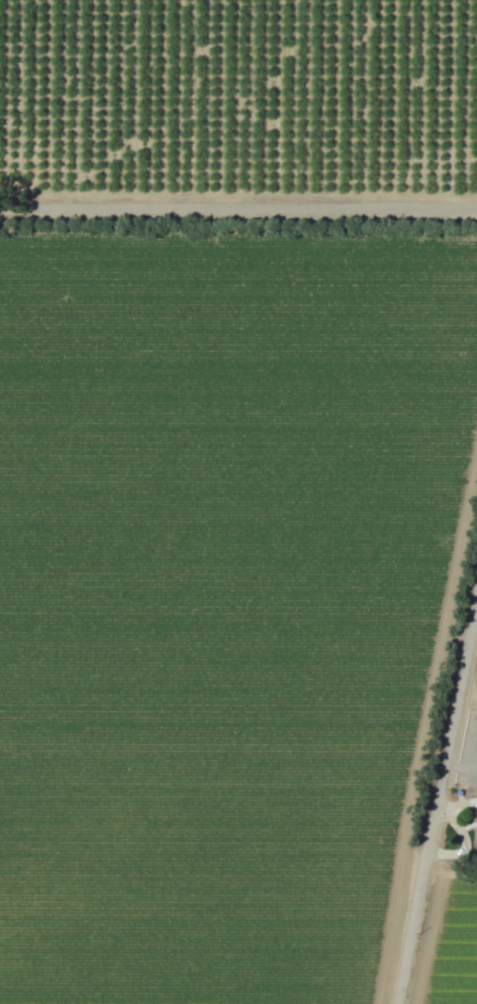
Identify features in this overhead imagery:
road: (238, 216)
road: (465, 765)
road: (458, 804)
road: (437, 827)

